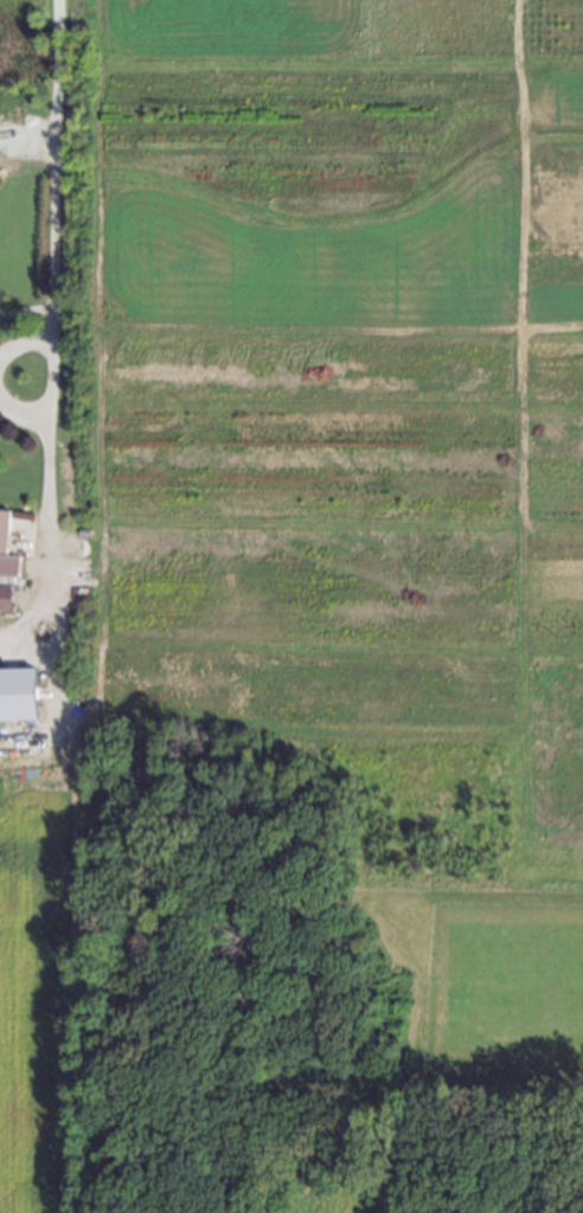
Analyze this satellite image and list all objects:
road: (51, 306)
road: (23, 341)
road: (21, 414)
building: (7, 548)

